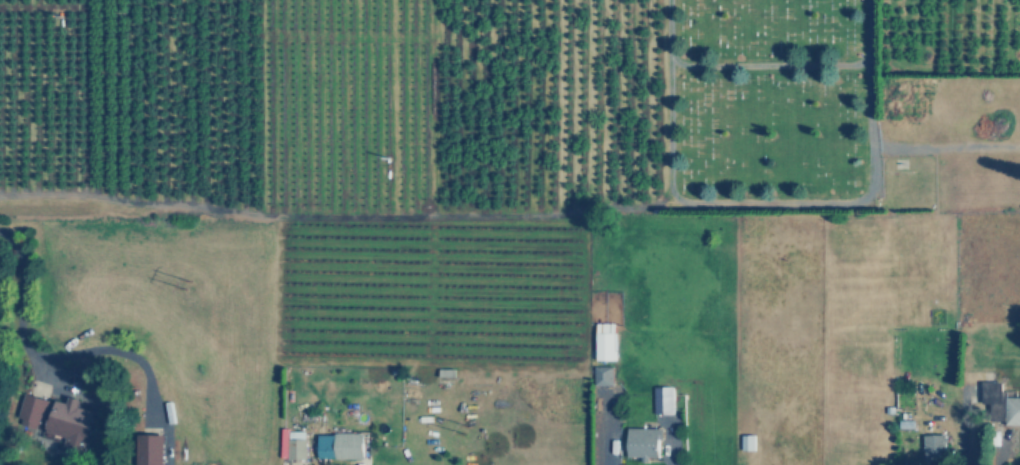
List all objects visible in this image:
road: (768, 64)
park: (765, 97)
road: (766, 202)
road: (336, 215)
road: (17, 303)
building: (602, 345)
building: (601, 375)
building: (660, 405)
building: (998, 405)
building: (30, 409)
building: (70, 420)
building: (745, 441)
building: (641, 442)
building: (297, 444)
building: (340, 444)
building: (150, 448)
building: (931, 449)

